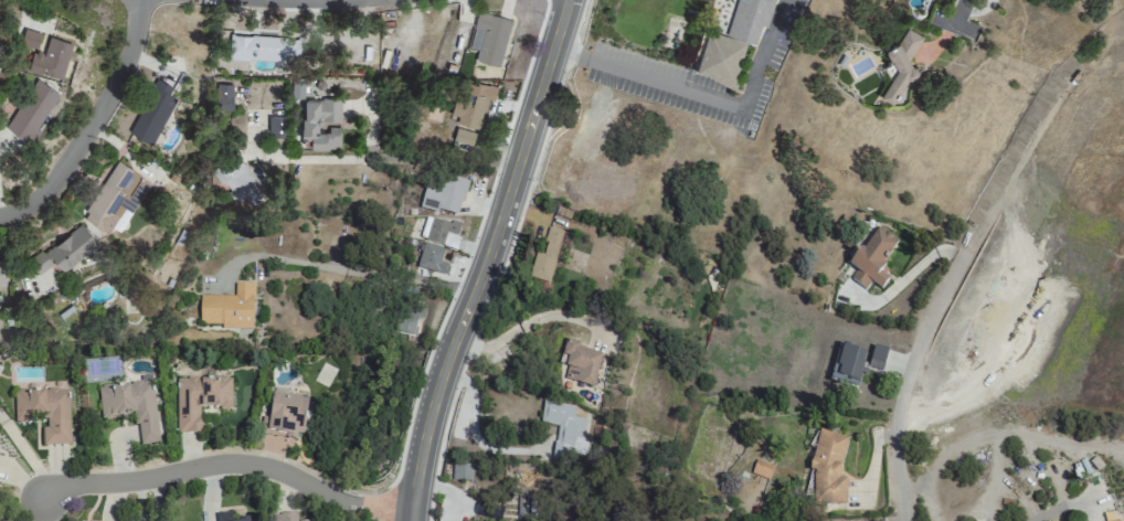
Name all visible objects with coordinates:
road: (318, 3)
road: (980, 10)
road: (964, 13)
building: (750, 18)
road: (955, 26)
building: (31, 38)
building: (489, 38)
building: (262, 47)
building: (51, 57)
building: (720, 57)
building: (901, 64)
building: (297, 87)
road: (703, 95)
building: (224, 96)
building: (473, 105)
road: (1049, 106)
building: (32, 109)
building: (152, 113)
building: (310, 124)
building: (277, 126)
road: (95, 128)
building: (464, 136)
road: (1068, 157)
road: (406, 159)
building: (240, 181)
building: (445, 195)
building: (116, 199)
road: (1054, 227)
building: (65, 249)
building: (545, 257)
building: (431, 259)
road: (490, 259)
building: (872, 260)
road: (346, 269)
building: (2, 274)
building: (227, 309)
building: (406, 317)
road: (530, 322)
road: (918, 353)
building: (877, 359)
building: (580, 364)
building: (850, 365)
building: (199, 400)
building: (131, 406)
building: (45, 413)
building: (285, 414)
building: (564, 426)
road: (474, 438)
road: (1005, 438)
road: (150, 444)
road: (29, 456)
road: (231, 468)
building: (828, 468)
building: (761, 469)
building: (462, 471)
road: (139, 502)
road: (156, 502)
road: (1053, 510)
road: (45, 511)
building: (227, 517)
building: (285, 517)
building: (1115, 520)

